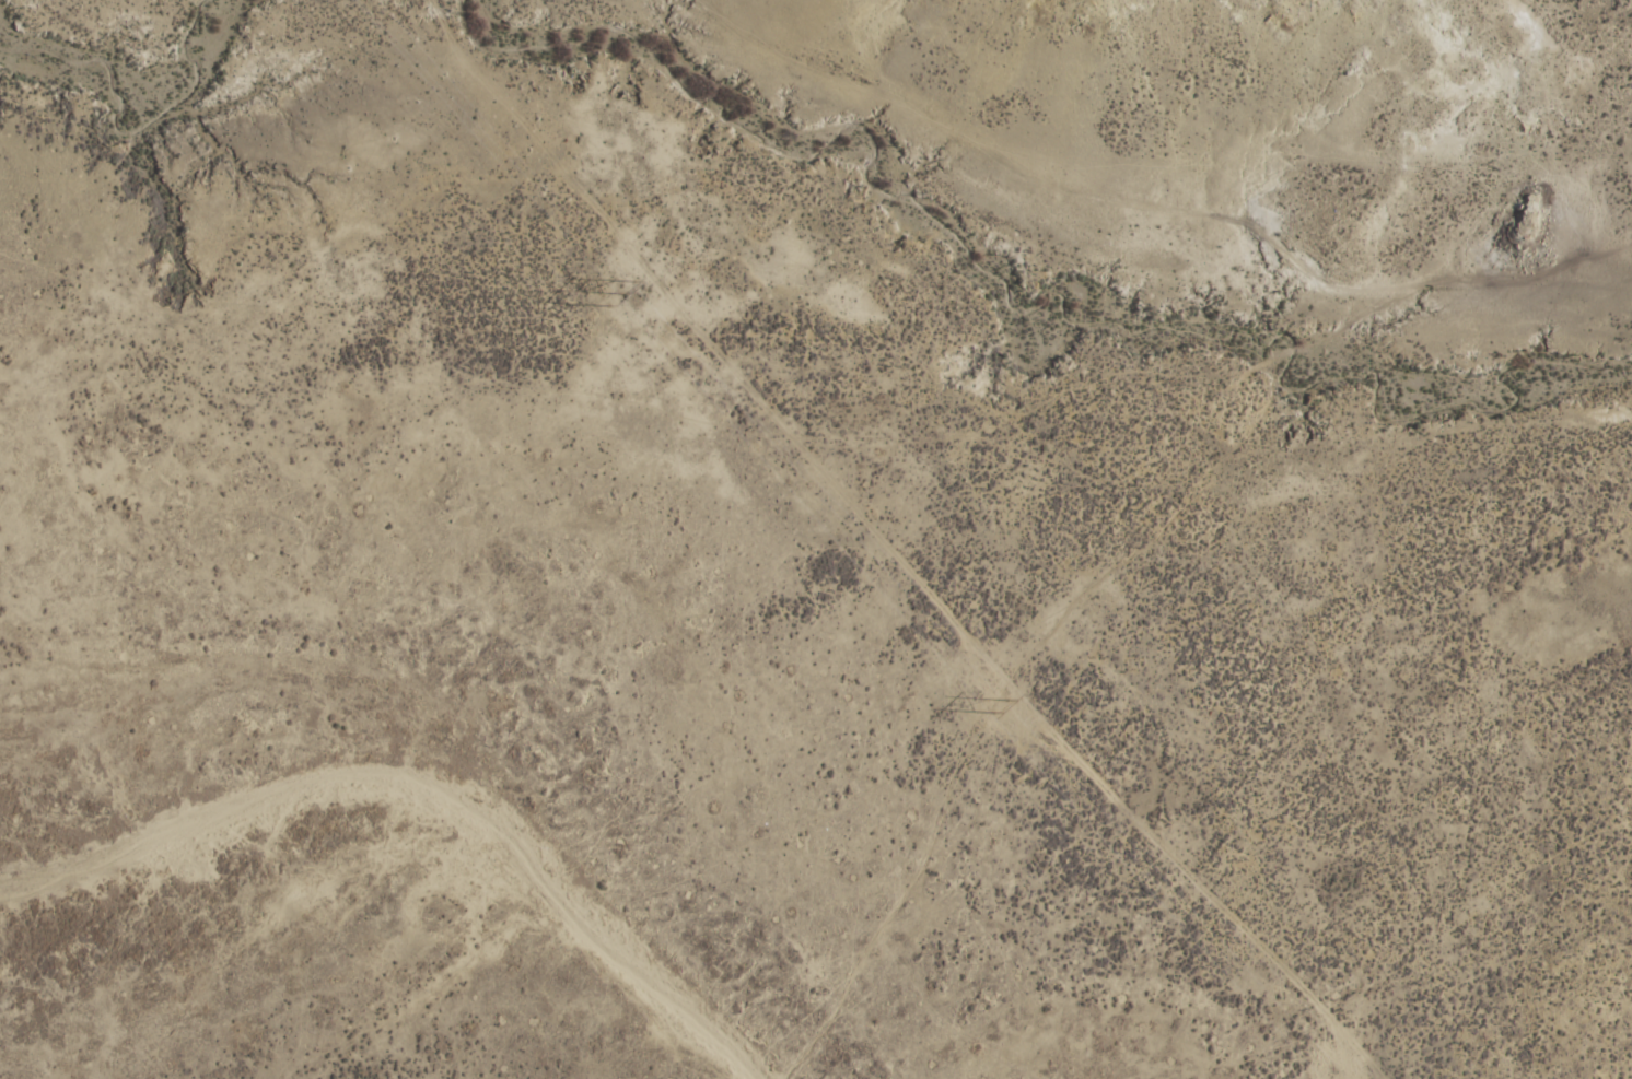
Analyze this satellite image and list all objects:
river: (129, 80)
power tower: (616, 293)
river: (1013, 312)
power tower: (991, 700)

